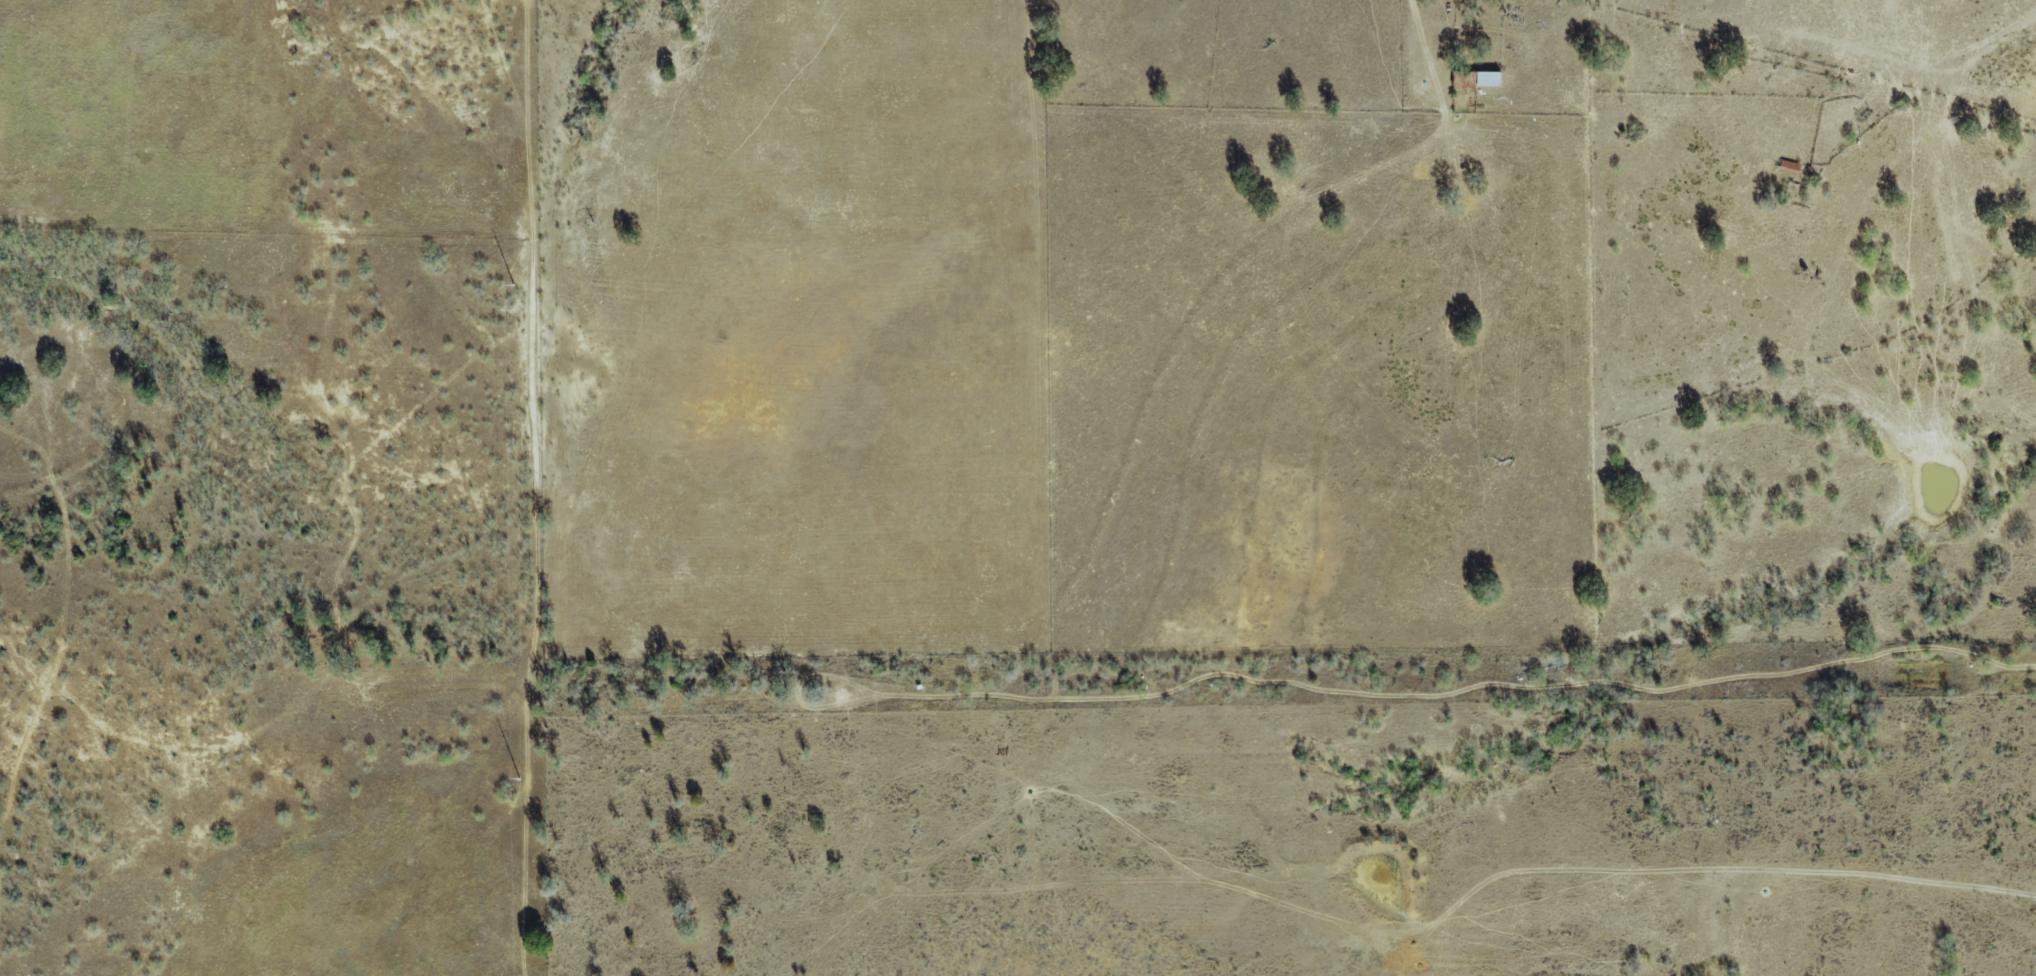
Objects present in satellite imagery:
power tower: (512, 285)
power tower: (519, 780)

